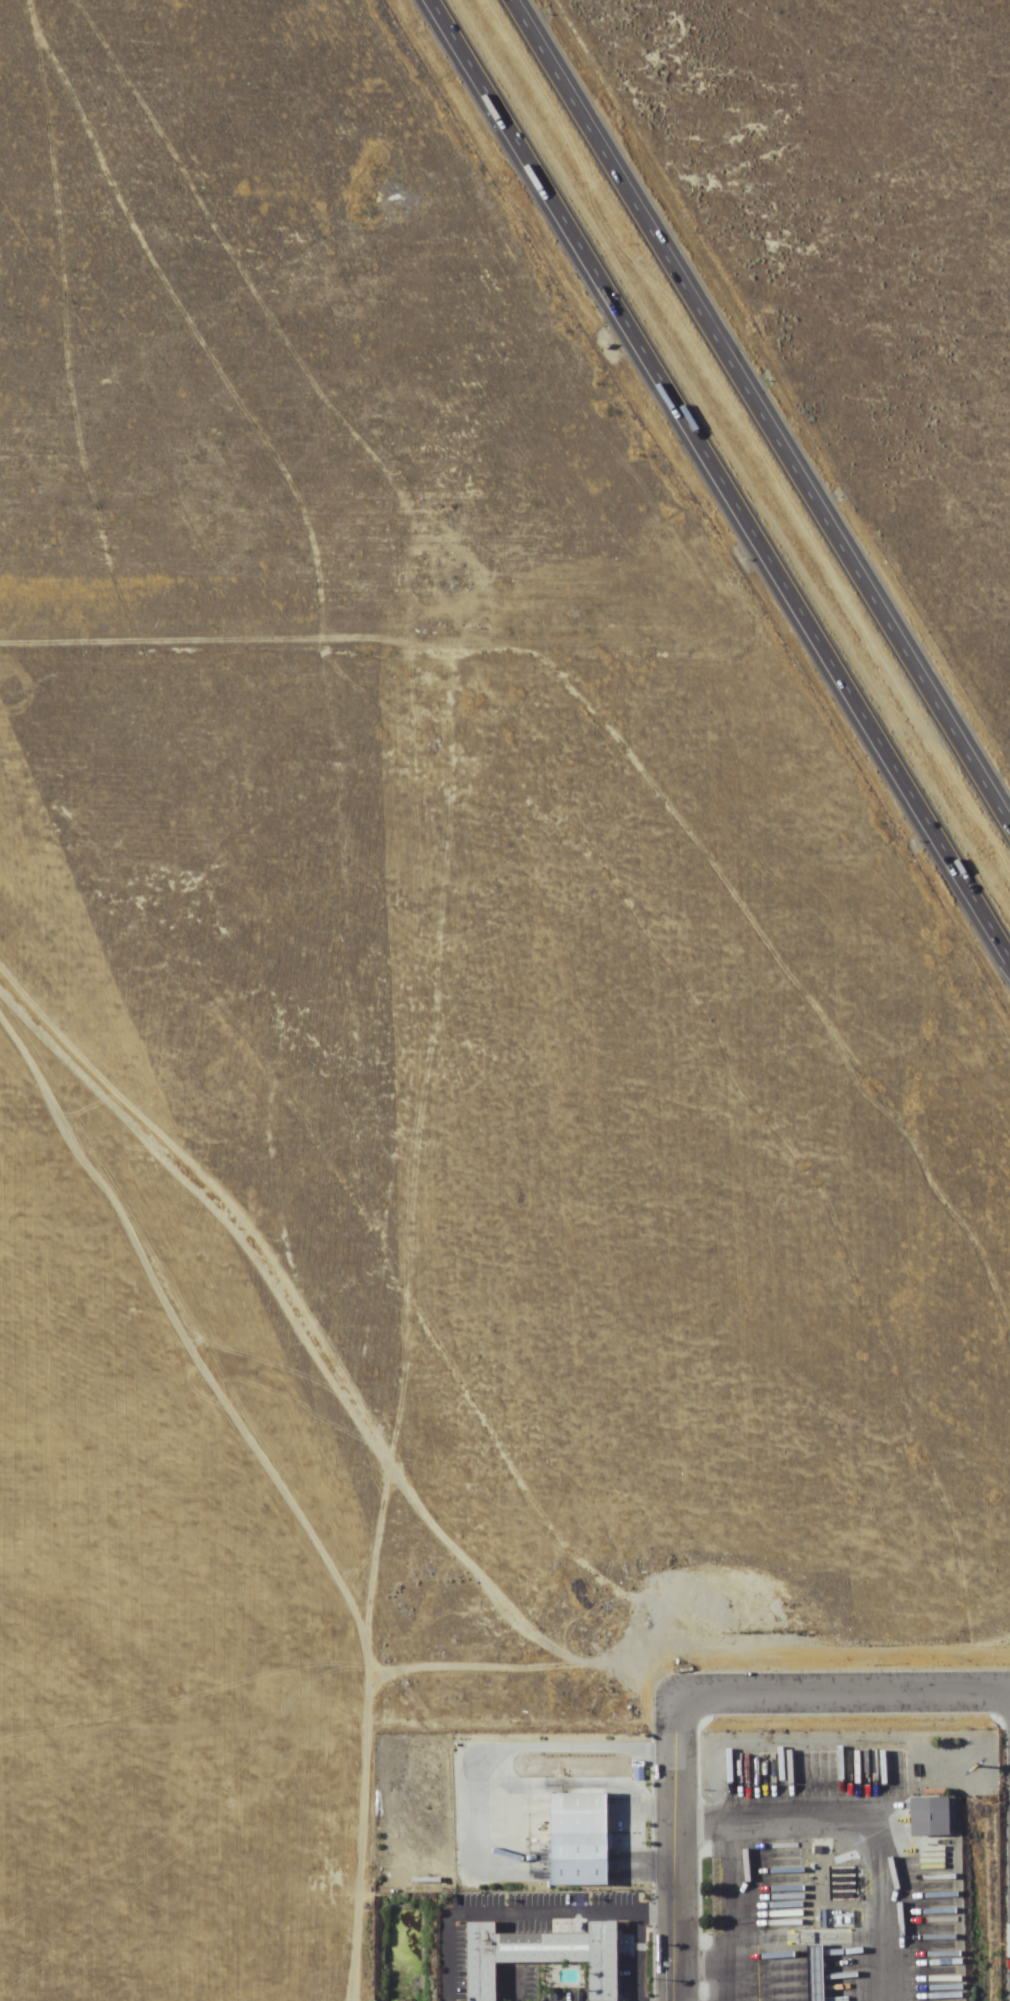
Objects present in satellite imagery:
road: (766, 402)
road: (725, 470)
crop: (183, 1180)
road: (847, 1698)
road: (682, 1849)
building: (577, 1860)
road: (524, 1911)
building: (548, 1955)
road: (637, 1955)
building: (814, 1972)
road: (516, 1990)

